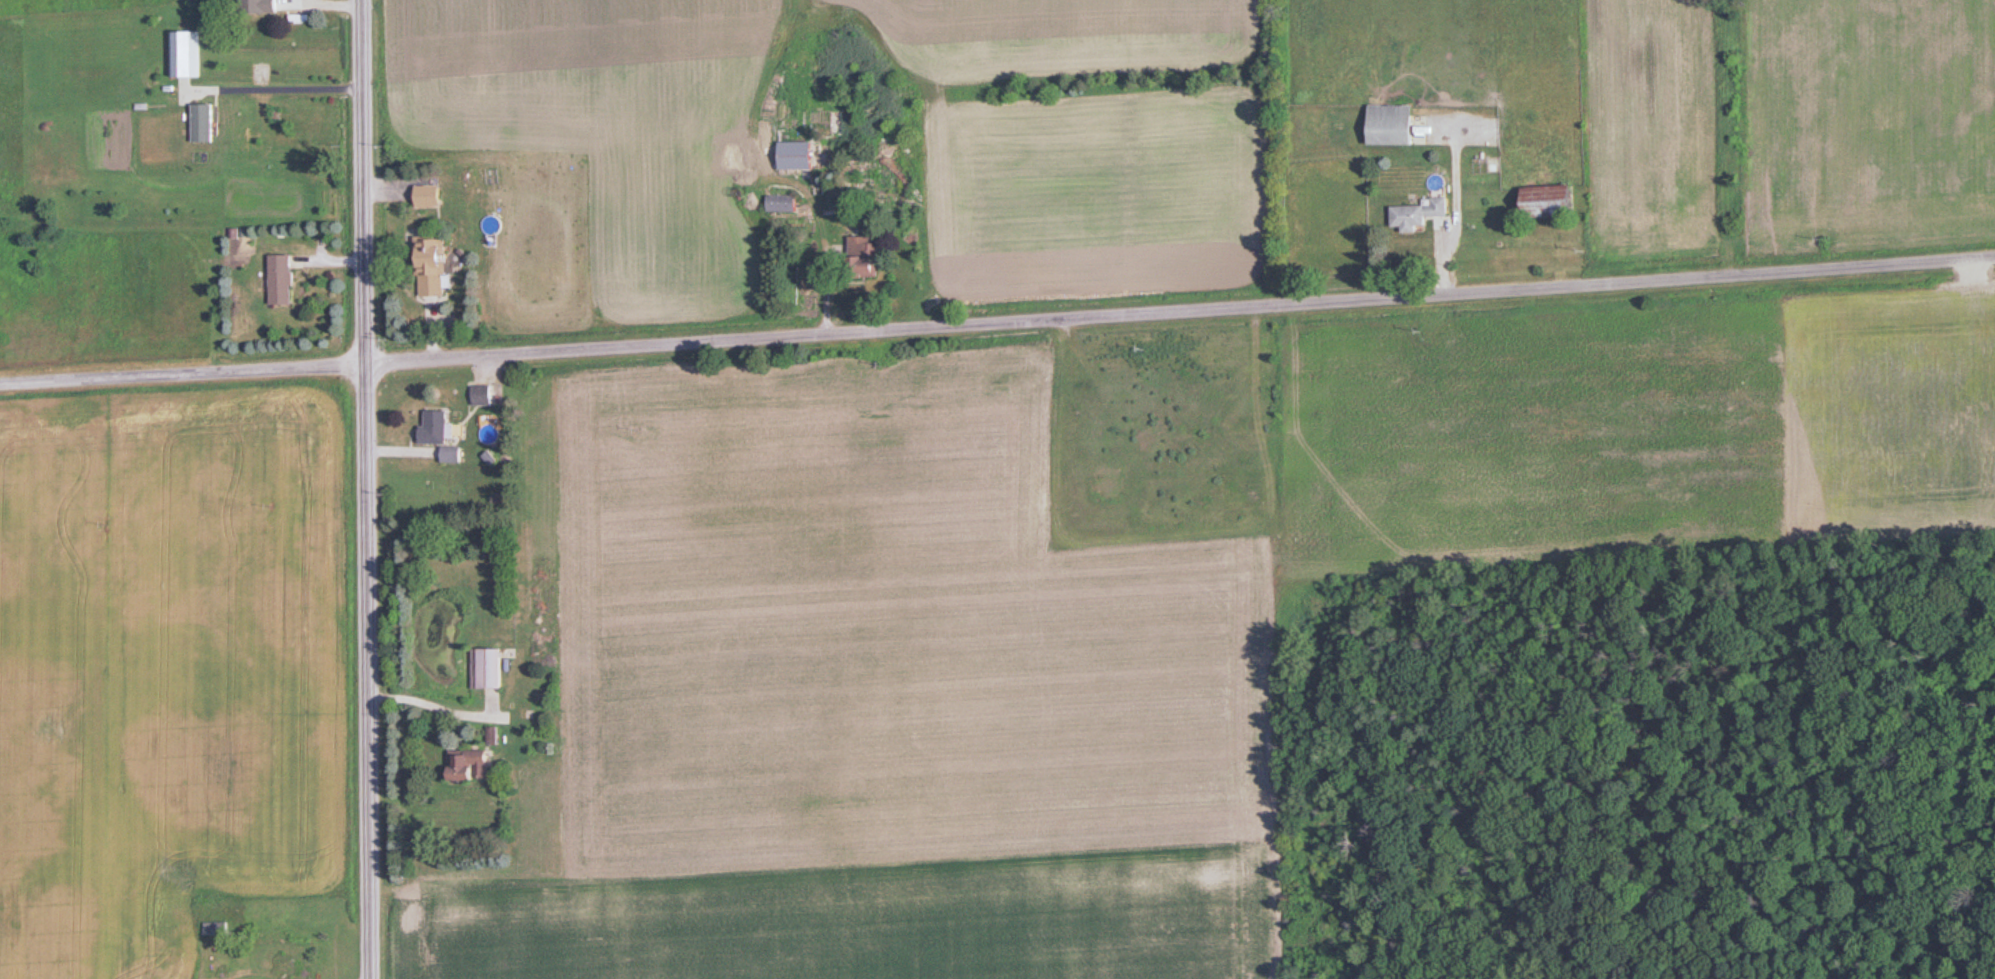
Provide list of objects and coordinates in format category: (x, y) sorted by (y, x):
building: (262, 7)
building: (183, 53)
road: (273, 87)
building: (204, 122)
building: (1392, 124)
building: (431, 196)
building: (1551, 201)
building: (784, 204)
building: (1417, 214)
building: (865, 255)
building: (433, 266)
building: (282, 279)
road: (997, 324)
building: (483, 394)
building: (435, 426)
road: (365, 489)
building: (490, 668)
road: (431, 706)
building: (470, 765)
building: (216, 928)

